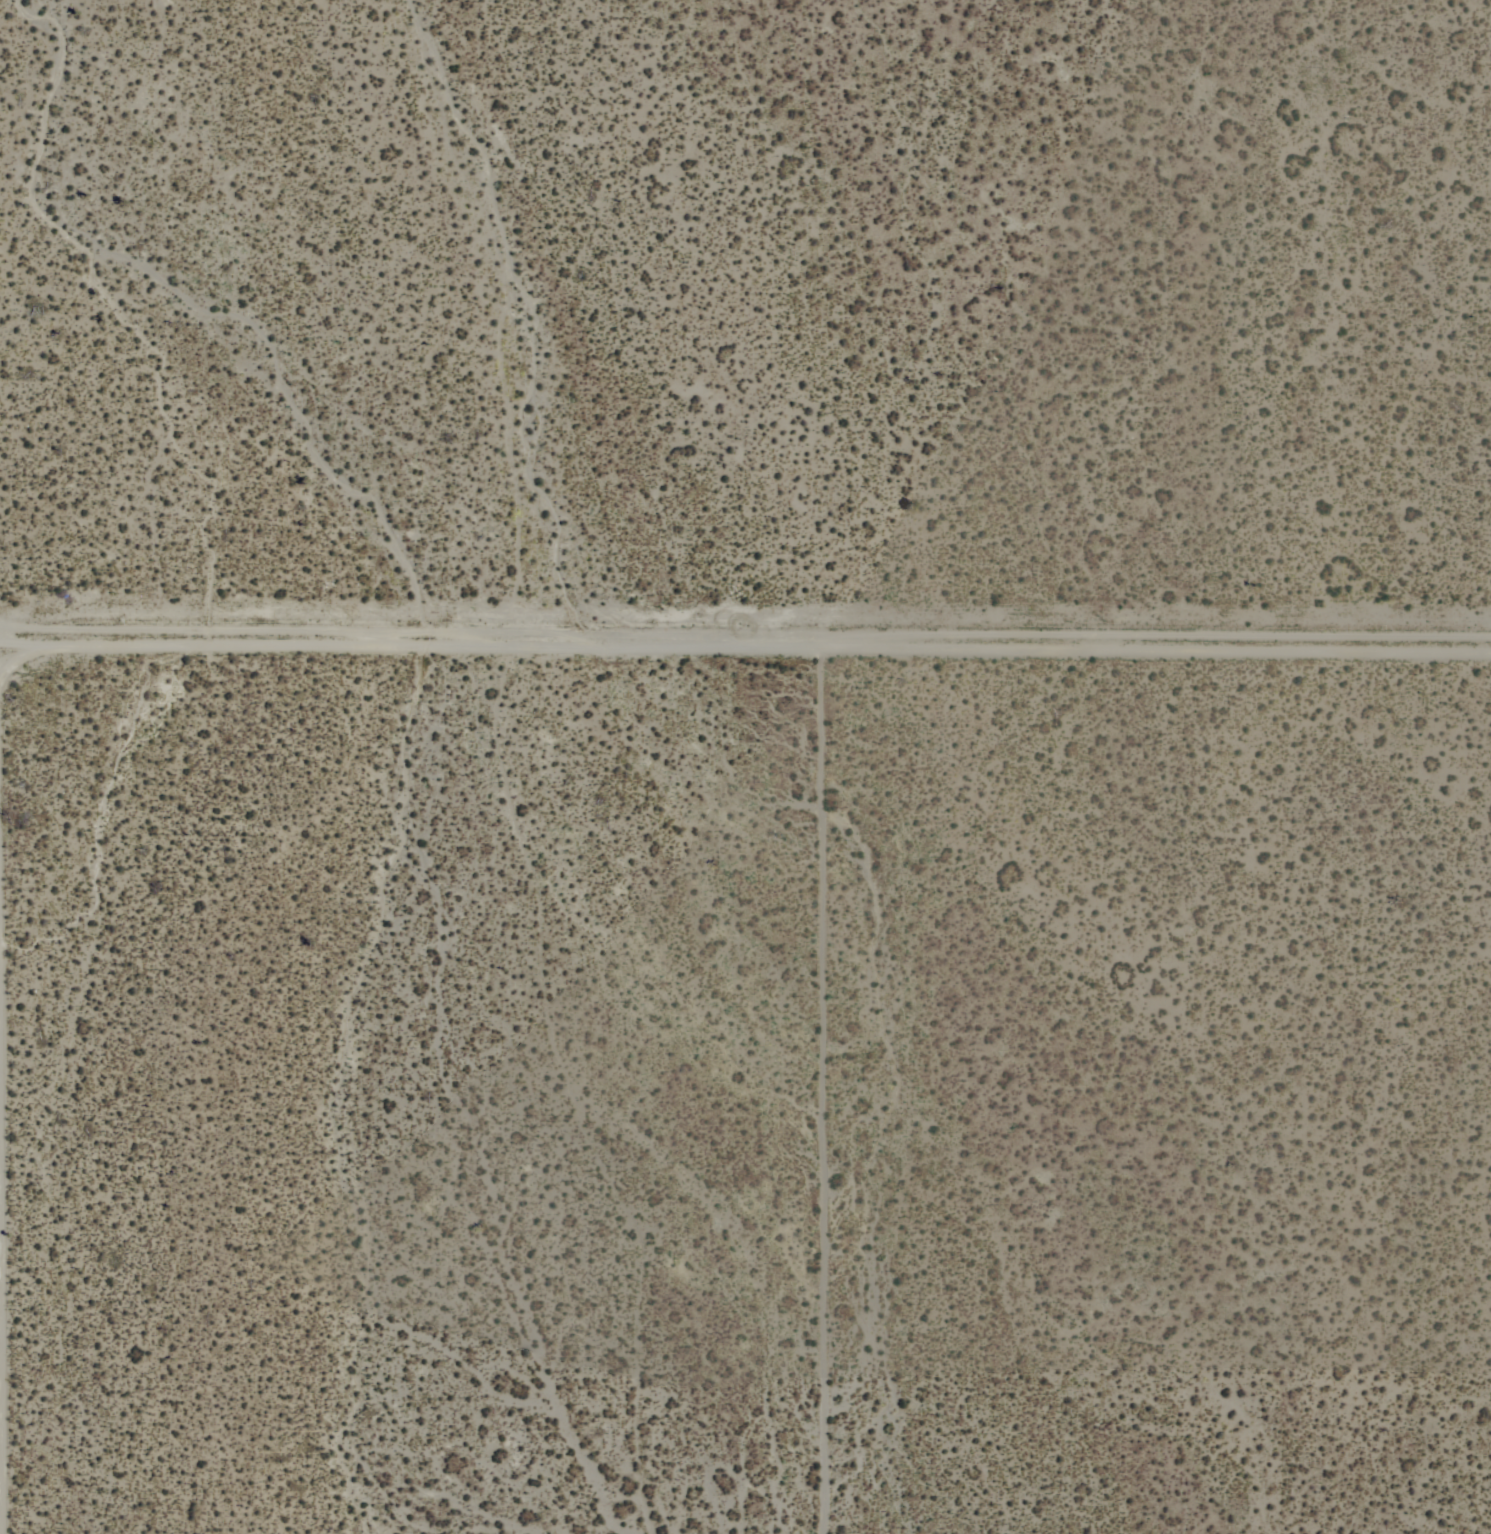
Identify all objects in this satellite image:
road: (745, 643)
road: (826, 1088)

